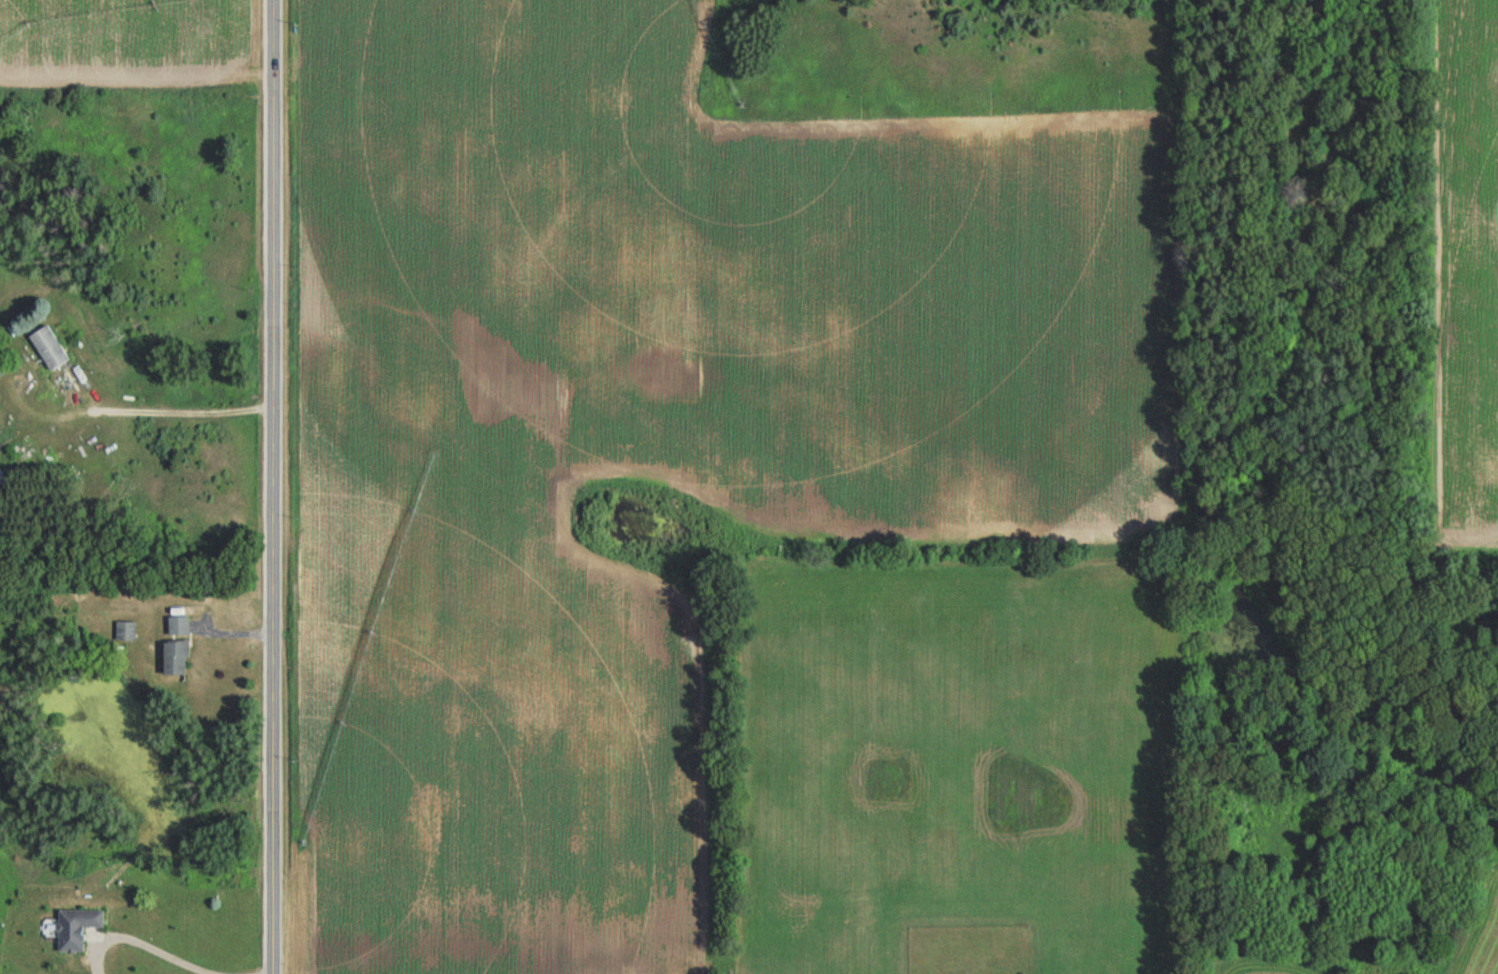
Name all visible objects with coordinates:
building: (47, 348)
building: (16, 457)
road: (272, 486)
building: (178, 626)
building: (125, 632)
building: (174, 659)
building: (75, 928)
road: (167, 954)

